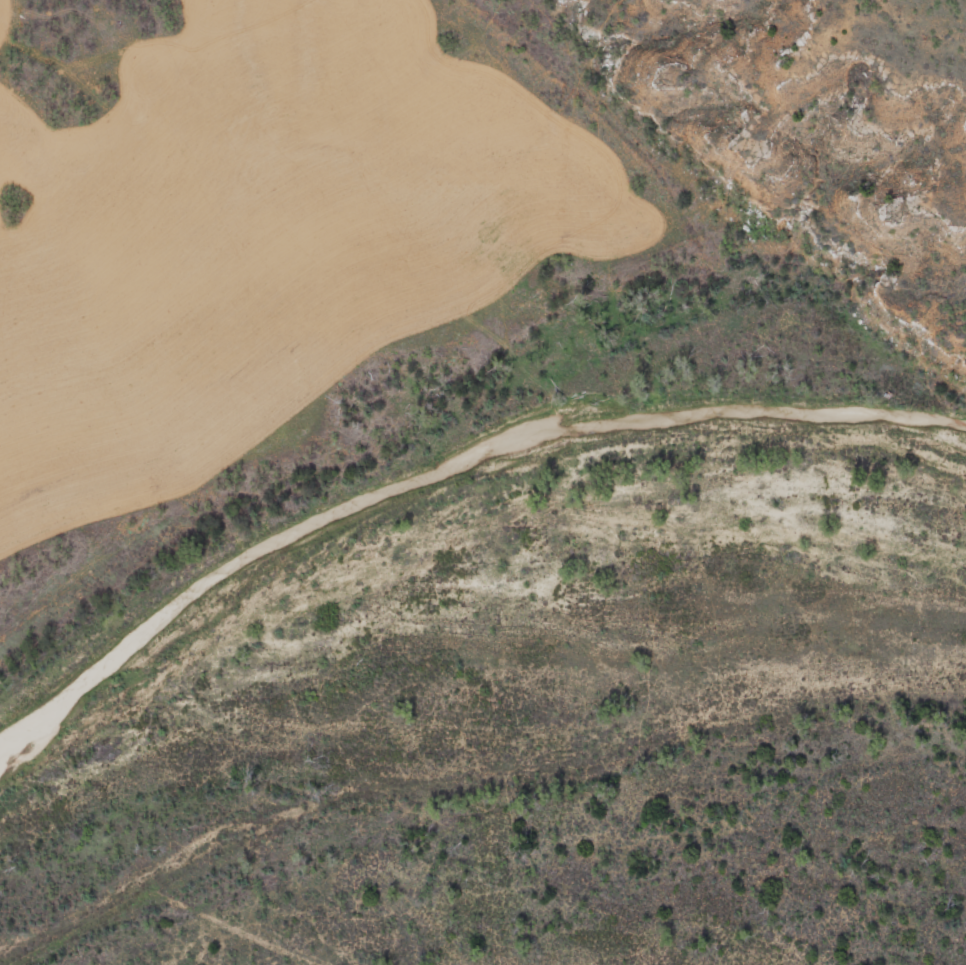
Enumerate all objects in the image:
building: (525, 302)
road: (964, 963)

